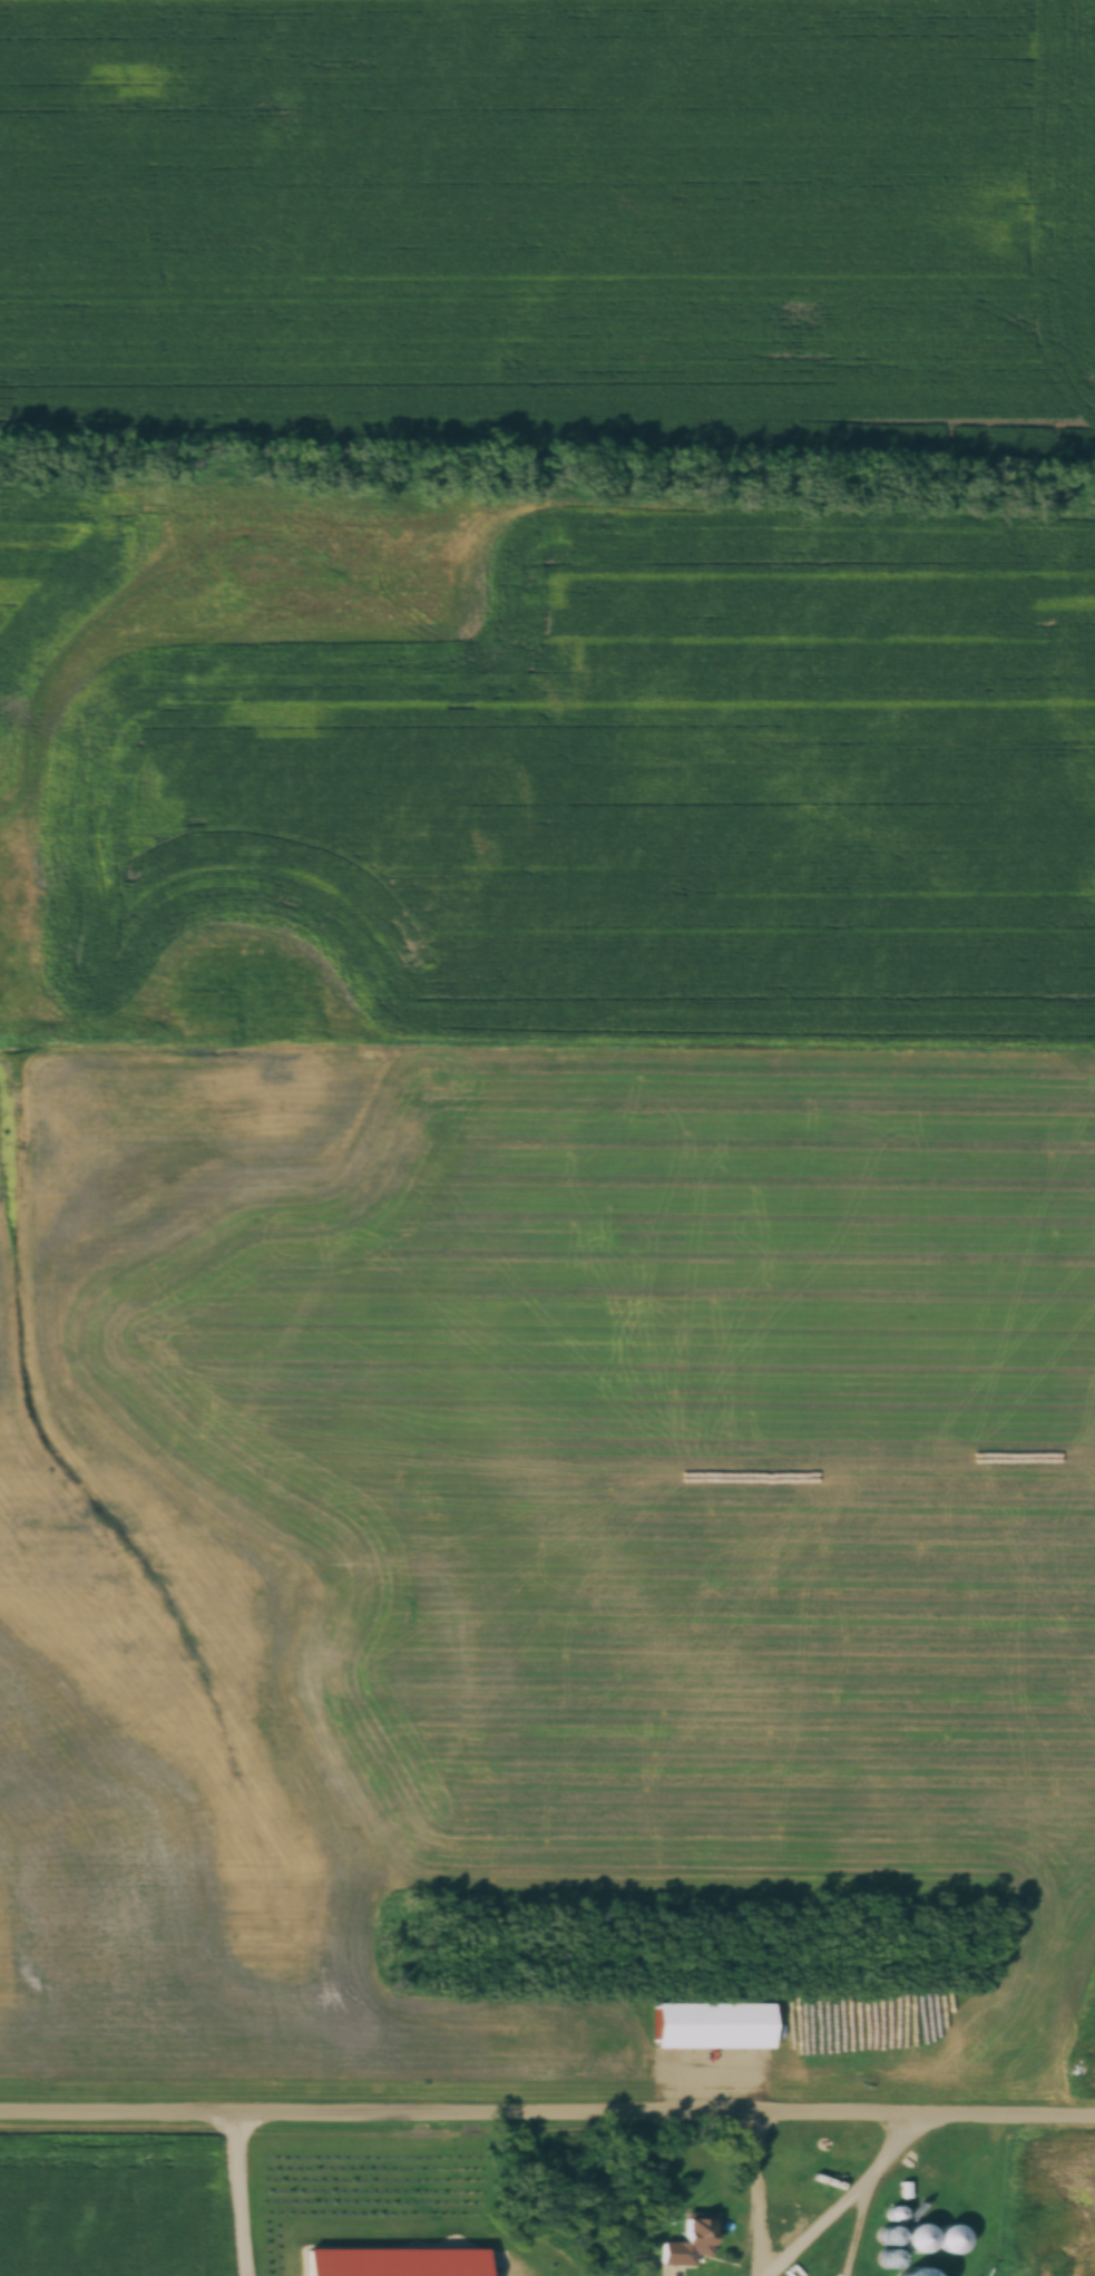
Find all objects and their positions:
building: (708, 2026)
road: (547, 2111)
building: (911, 2168)
building: (912, 2210)
building: (912, 2238)
building: (687, 2240)
building: (883, 2248)
building: (909, 2272)

